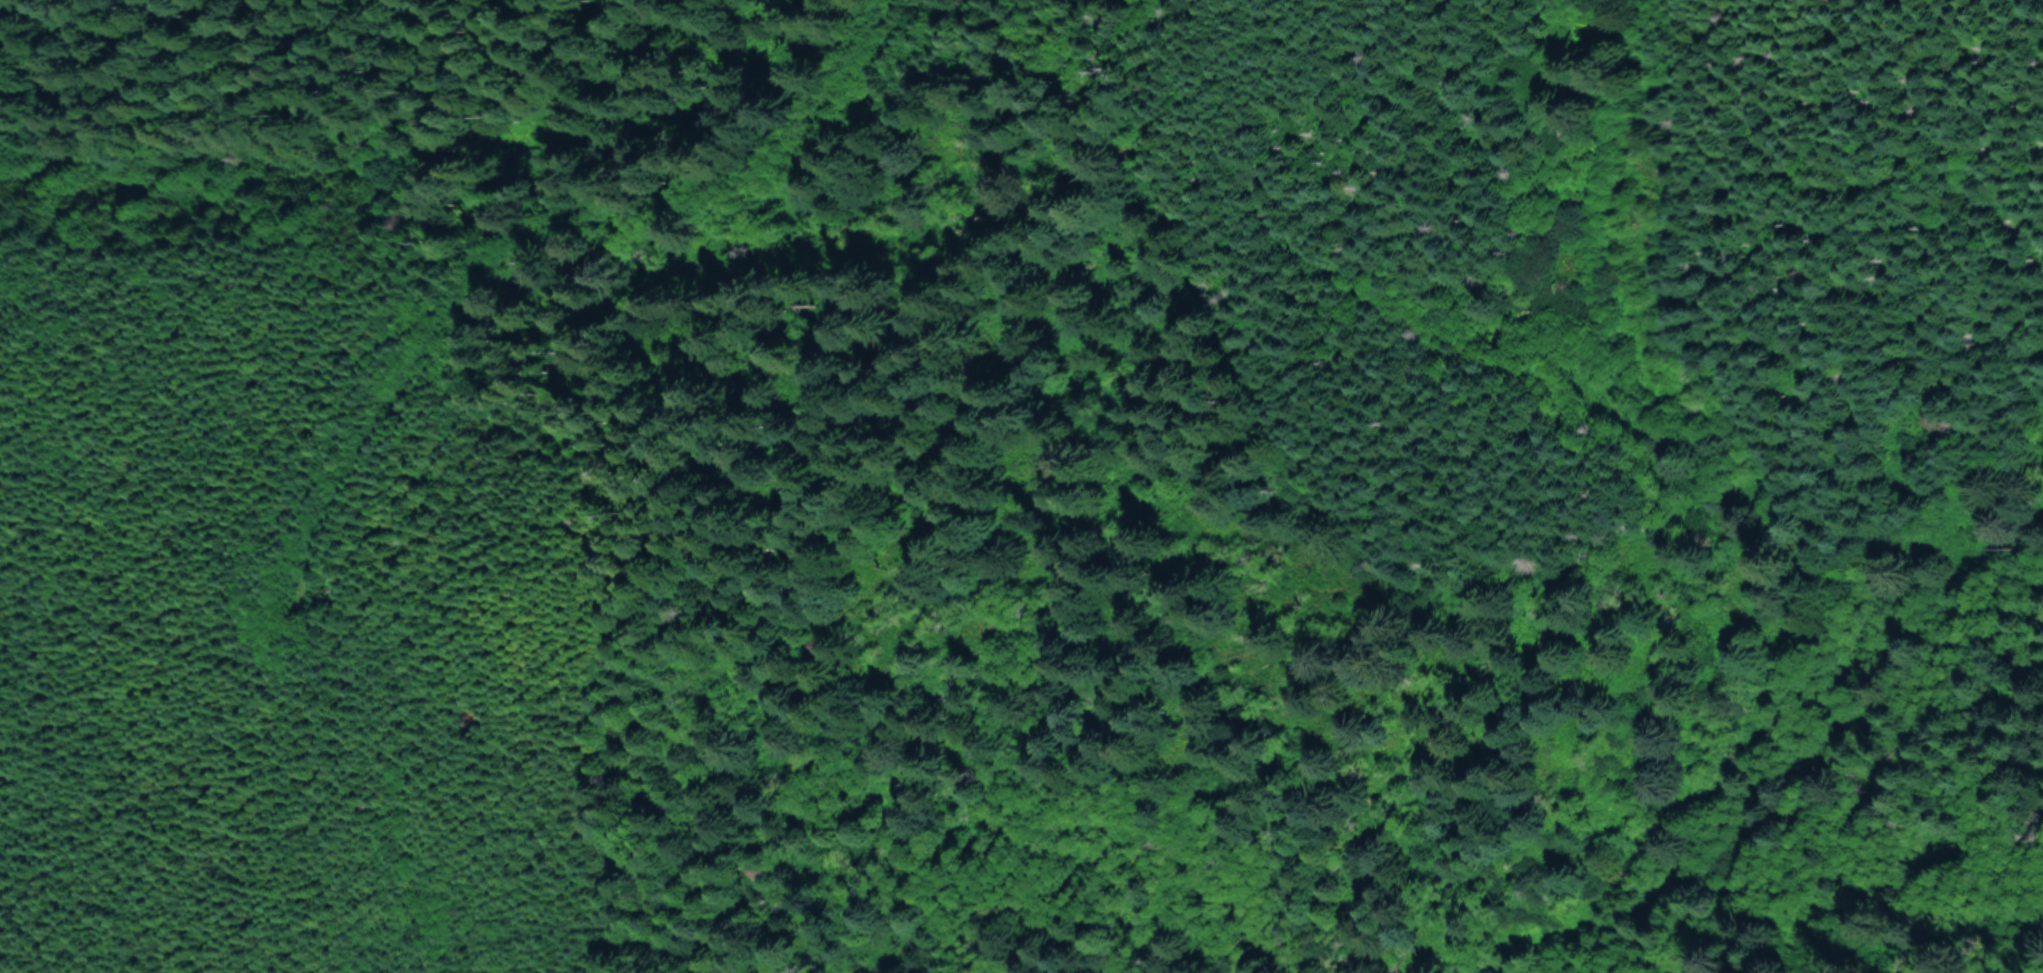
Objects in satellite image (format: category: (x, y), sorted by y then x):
road: (508, 277)

